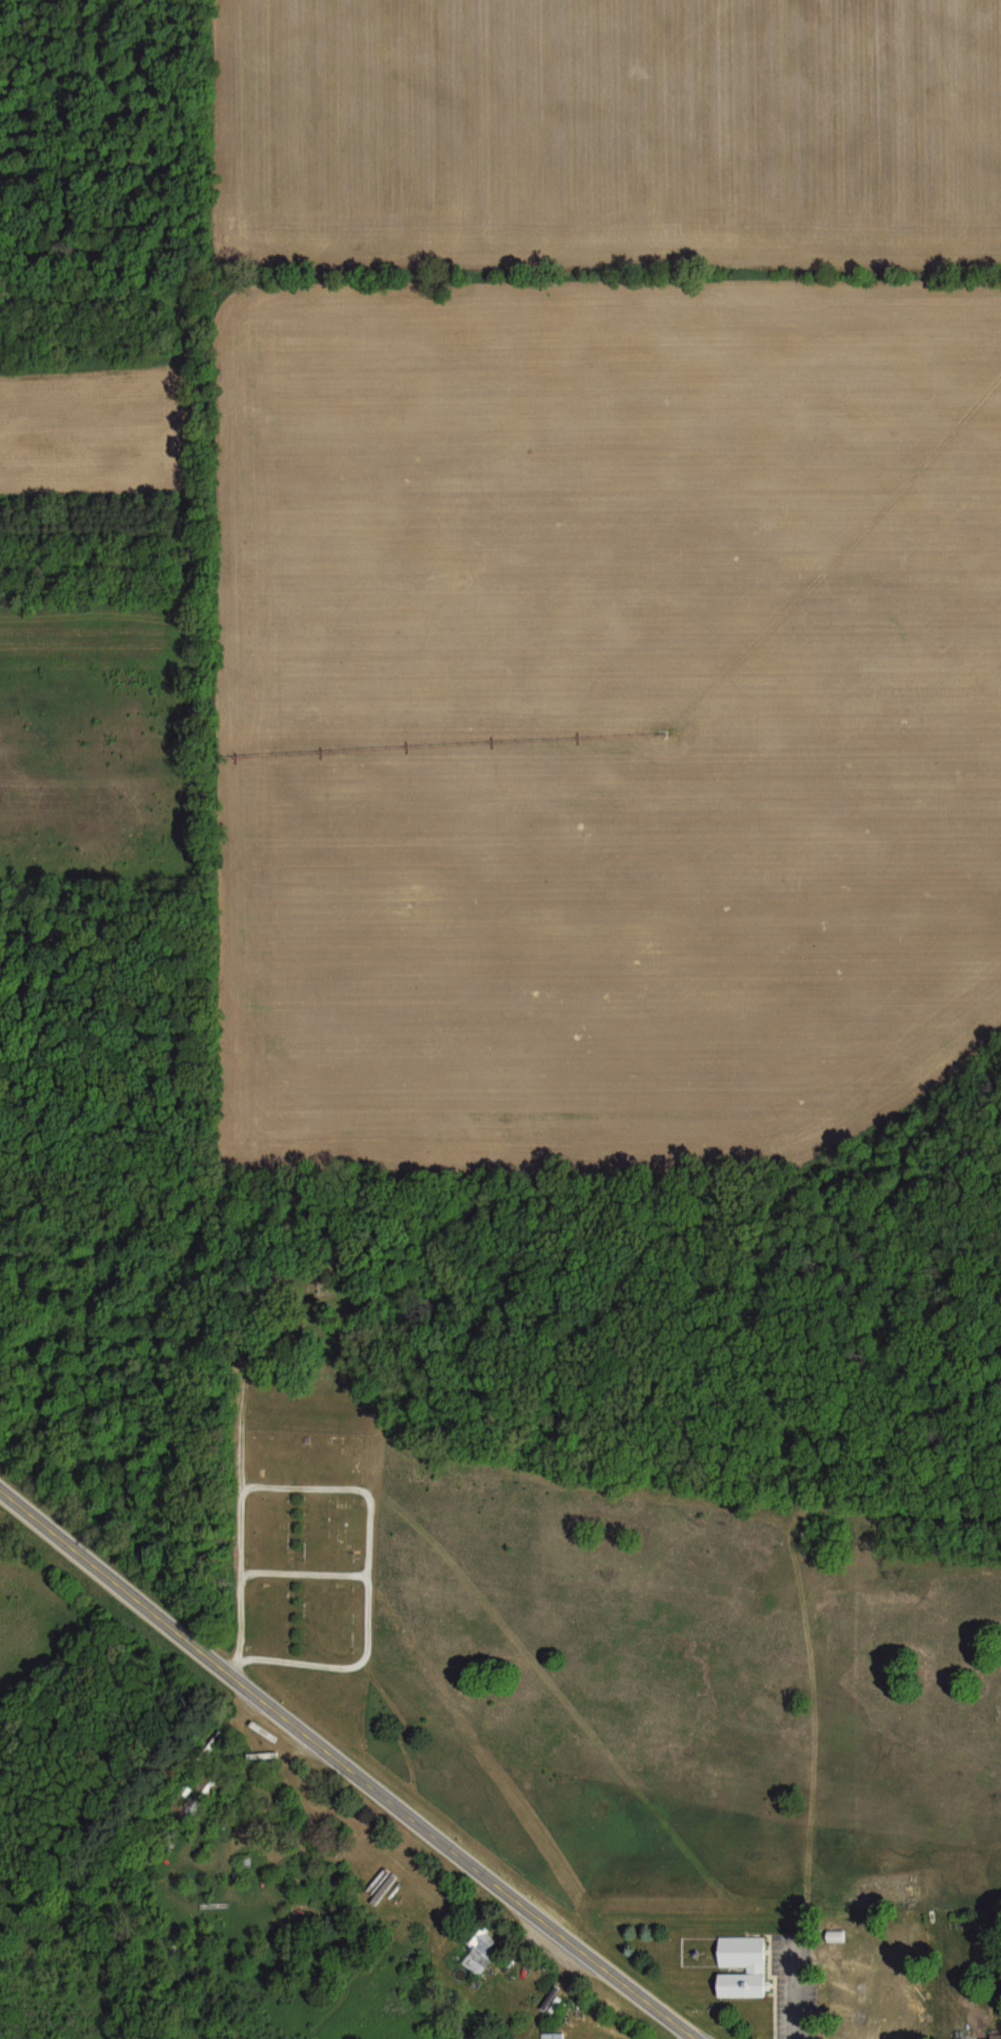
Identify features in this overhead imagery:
road: (239, 1518)
park: (307, 1568)
road: (301, 1570)
road: (366, 1574)
building: (265, 1754)
road: (339, 1762)
building: (199, 1792)
building: (482, 1947)
building: (743, 1965)

